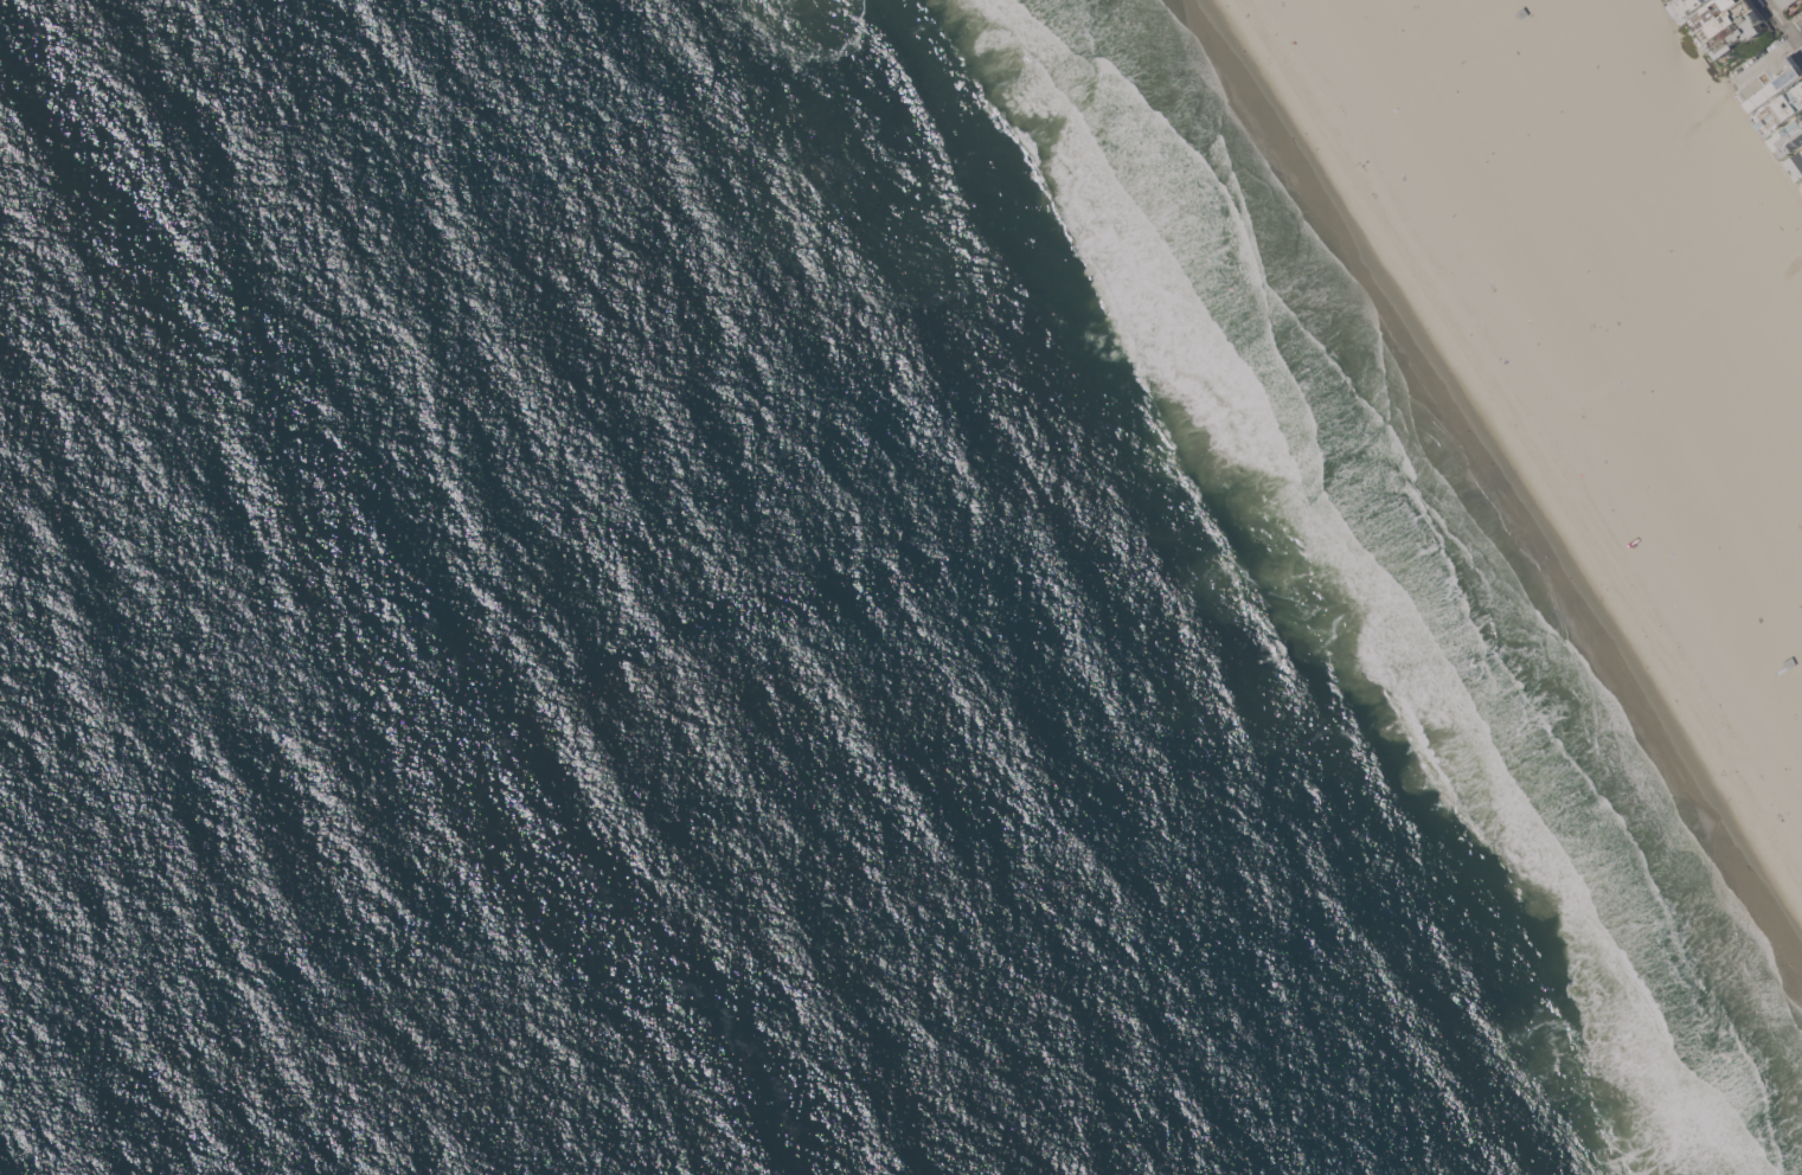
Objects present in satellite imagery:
building: (1785, 2)
building: (1689, 5)
building: (1727, 25)
road: (1783, 25)
road: (1769, 51)
building: (1772, 83)
building: (1396, 105)
building: (1782, 111)
building: (1790, 140)
road: (1775, 150)
building: (1797, 165)
park: (1751, 208)
building: (1758, 685)

